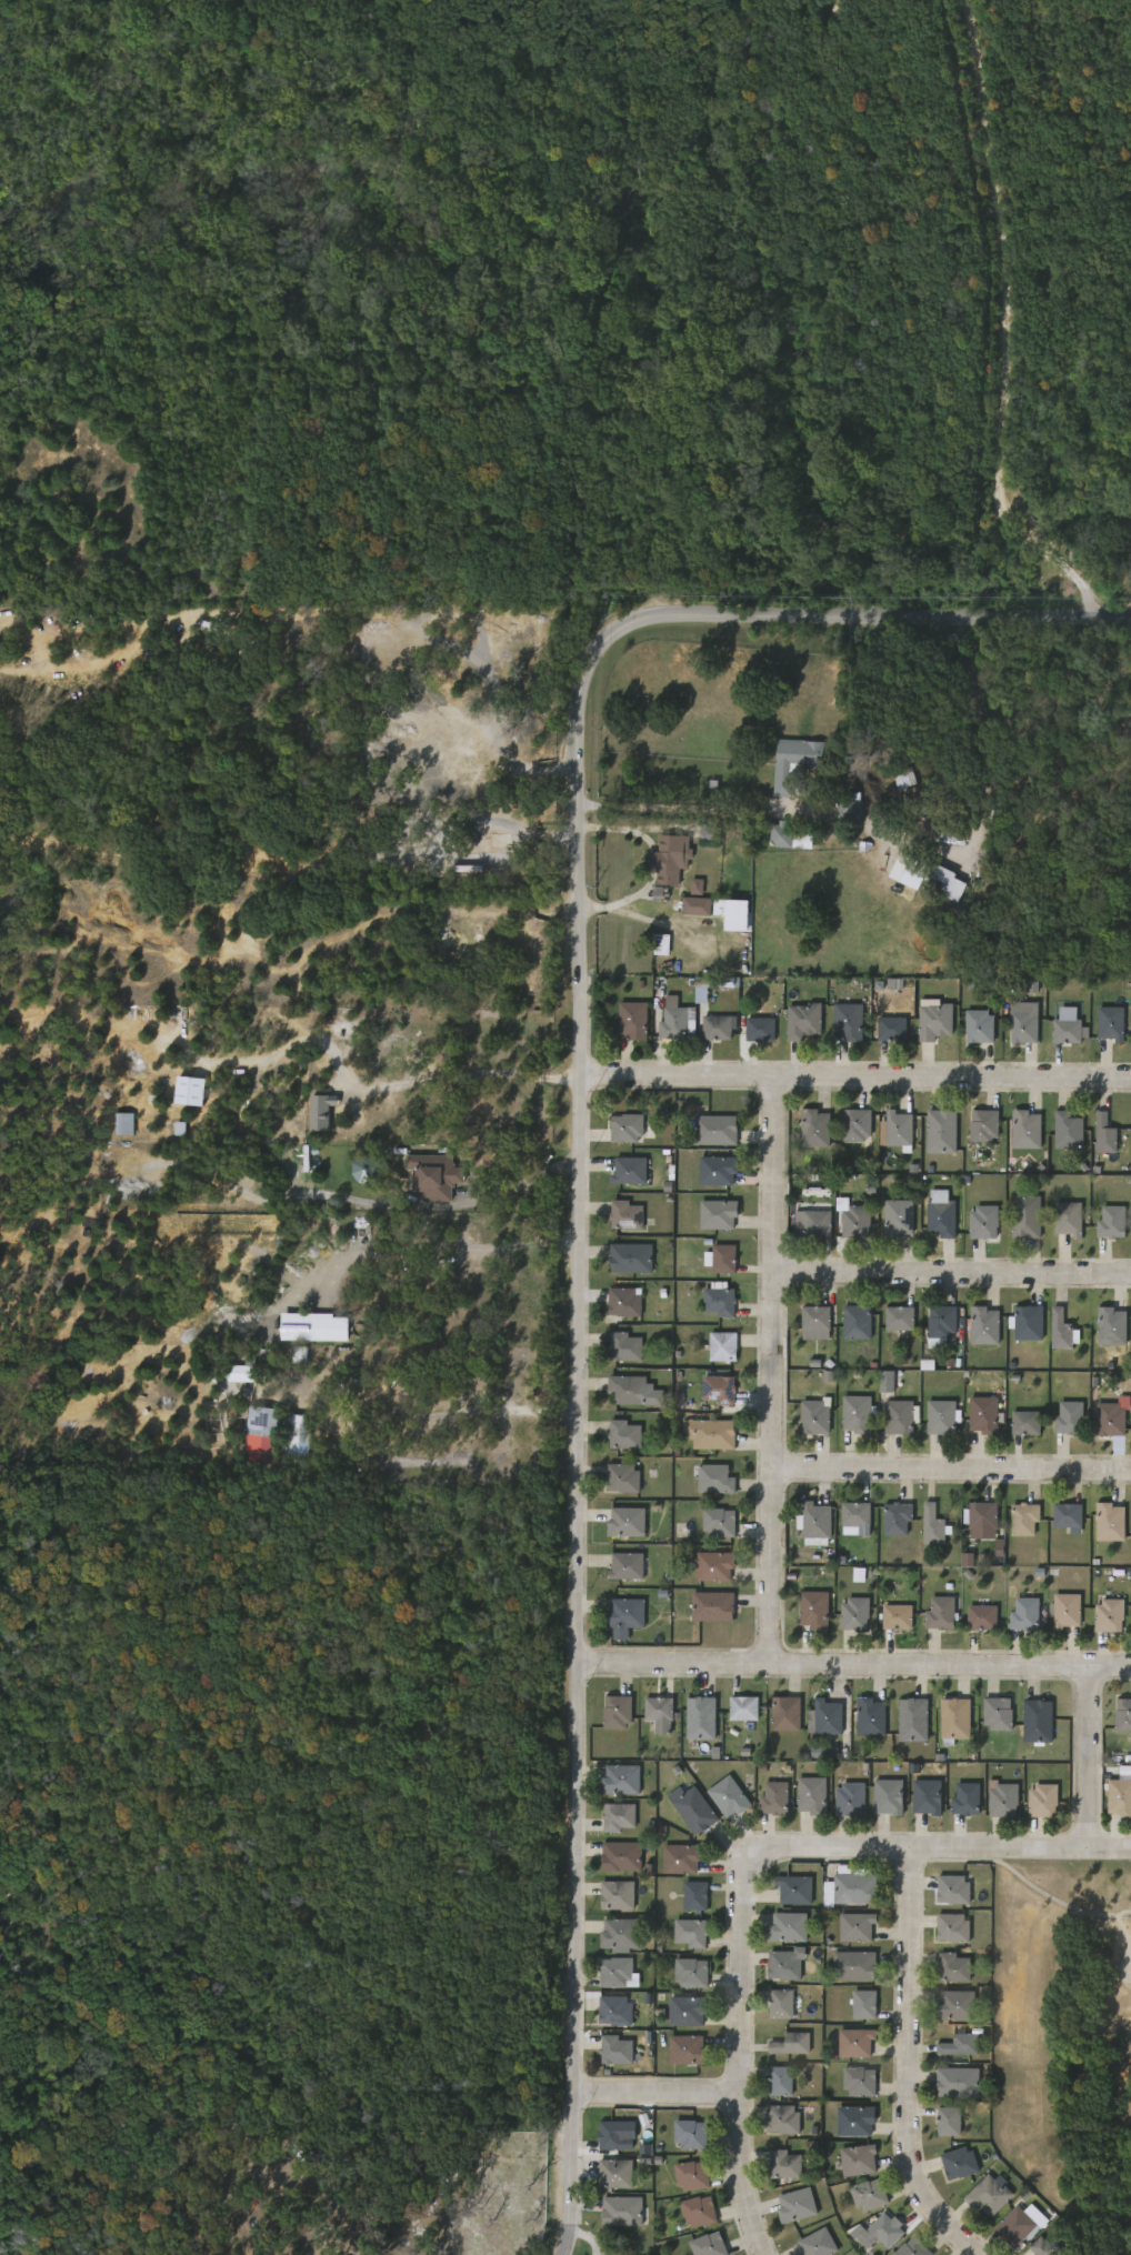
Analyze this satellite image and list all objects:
road: (1009, 332)
building: (1130, 567)
building: (797, 762)
building: (894, 786)
building: (847, 808)
road: (677, 809)
road: (620, 830)
building: (669, 858)
road: (653, 861)
building: (934, 888)
building: (694, 900)
road: (624, 902)
building: (687, 912)
building: (730, 912)
building: (715, 981)
building: (631, 1020)
building: (678, 1020)
building: (804, 1020)
building: (848, 1021)
building: (937, 1021)
building: (1112, 1023)
building: (1070, 1025)
building: (717, 1026)
building: (981, 1026)
building: (1024, 1026)
building: (892, 1028)
building: (759, 1029)
building: (1101, 1029)
building: (1130, 1031)
building: (970, 1032)
building: (1057, 1032)
building: (882, 1034)
road: (855, 1076)
road: (379, 1089)
building: (181, 1096)
building: (311, 1116)
building: (855, 1124)
building: (985, 1126)
building: (624, 1127)
building: (814, 1127)
building: (113, 1130)
building: (718, 1130)
building: (901, 1130)
building: (1028, 1130)
building: (943, 1131)
building: (1070, 1131)
building: (1107, 1134)
building: (889, 1135)
building: (1015, 1135)
building: (1059, 1136)
building: (1130, 1137)
building: (1095, 1140)
building: (631, 1170)
building: (717, 1170)
road: (579, 1177)
road: (463, 1207)
building: (715, 1214)
building: (942, 1214)
building: (624, 1215)
building: (899, 1216)
building: (1025, 1216)
building: (931, 1219)
building: (1068, 1219)
building: (855, 1221)
building: (985, 1222)
building: (1111, 1222)
building: (815, 1223)
building: (1059, 1224)
building: (973, 1227)
building: (1130, 1232)
building: (631, 1257)
building: (723, 1260)
road: (949, 1277)
building: (720, 1301)
building: (625, 1302)
building: (818, 1319)
building: (901, 1319)
building: (858, 1322)
building: (941, 1322)
building: (1030, 1323)
building: (890, 1324)
building: (987, 1325)
building: (1113, 1326)
building: (805, 1327)
building: (1063, 1330)
building: (974, 1331)
building: (1102, 1332)
building: (1050, 1335)
building: (721, 1346)
building: (627, 1347)
building: (615, 1352)
road: (767, 1370)
building: (877, 1386)
building: (632, 1390)
building: (718, 1390)
building: (857, 1414)
building: (983, 1414)
building: (818, 1416)
building: (898, 1416)
building: (942, 1417)
building: (1071, 1419)
building: (1113, 1420)
building: (1130, 1421)
building: (1027, 1423)
building: (259, 1425)
building: (1015, 1429)
building: (711, 1433)
building: (622, 1435)
building: (284, 1441)
road: (947, 1472)
building: (621, 1477)
building: (714, 1479)
building: (858, 1513)
building: (1070, 1514)
building: (982, 1515)
building: (899, 1517)
building: (1027, 1517)
building: (720, 1521)
building: (1112, 1521)
building: (624, 1522)
building: (817, 1522)
building: (1059, 1522)
building: (847, 1523)
building: (887, 1524)
building: (1014, 1524)
building: (1130, 1524)
building: (935, 1525)
building: (1100, 1527)
building: (709, 1529)
building: (923, 1531)
building: (628, 1566)
building: (713, 1566)
building: (711, 1607)
building: (813, 1610)
building: (1067, 1611)
building: (943, 1613)
building: (624, 1614)
building: (857, 1614)
building: (1027, 1614)
building: (1109, 1615)
building: (899, 1616)
building: (983, 1616)
building: (1129, 1617)
building: (931, 1618)
building: (1014, 1620)
building: (888, 1622)
building: (972, 1622)
road: (853, 1664)
building: (743, 1708)
building: (615, 1712)
building: (788, 1713)
building: (1000, 1713)
building: (658, 1714)
building: (1123, 1715)
building: (702, 1717)
building: (777, 1718)
building: (824, 1718)
building: (869, 1718)
building: (958, 1718)
building: (988, 1718)
building: (912, 1721)
building: (1039, 1721)
road: (1089, 1756)
building: (1129, 1757)
building: (622, 1780)
building: (811, 1796)
building: (728, 1797)
building: (888, 1797)
building: (927, 1797)
building: (1120, 1797)
building: (773, 1800)
building: (849, 1800)
building: (965, 1801)
building: (1003, 1801)
building: (1042, 1801)
building: (695, 1810)
building: (620, 1816)
building: (622, 1856)
building: (681, 1857)
road: (748, 1868)
building: (852, 1886)
building: (797, 1890)
building: (955, 1890)
building: (618, 1895)
building: (694, 1895)
building: (855, 1926)
building: (790, 1927)
building: (952, 1927)
building: (693, 1933)
building: (621, 1934)
building: (681, 1937)
building: (787, 1965)
building: (853, 1965)
building: (953, 1966)
building: (774, 1970)
building: (618, 1972)
building: (693, 1972)
building: (782, 2003)
building: (863, 2004)
building: (955, 2004)
building: (772, 2008)
building: (687, 2010)
building: (854, 2010)
building: (617, 2011)
building: (858, 2042)
building: (790, 2043)
building: (961, 2045)
building: (614, 2049)
building: (685, 2049)
road: (910, 2062)
building: (780, 2079)
building: (861, 2082)
building: (960, 2082)
road: (657, 2093)
building: (784, 2118)
building: (858, 2121)
building: (948, 2122)
building: (615, 2134)
building: (692, 2134)
building: (861, 2159)
building: (960, 2163)
building: (783, 2164)
building: (617, 2174)
building: (692, 2175)
building: (871, 2195)
building: (991, 2196)
building: (795, 2205)
building: (623, 2211)
building: (700, 2211)
building: (1015, 2225)
building: (888, 2231)
building: (818, 2243)
building: (707, 2245)
building: (1049, 2245)
building: (914, 2248)

